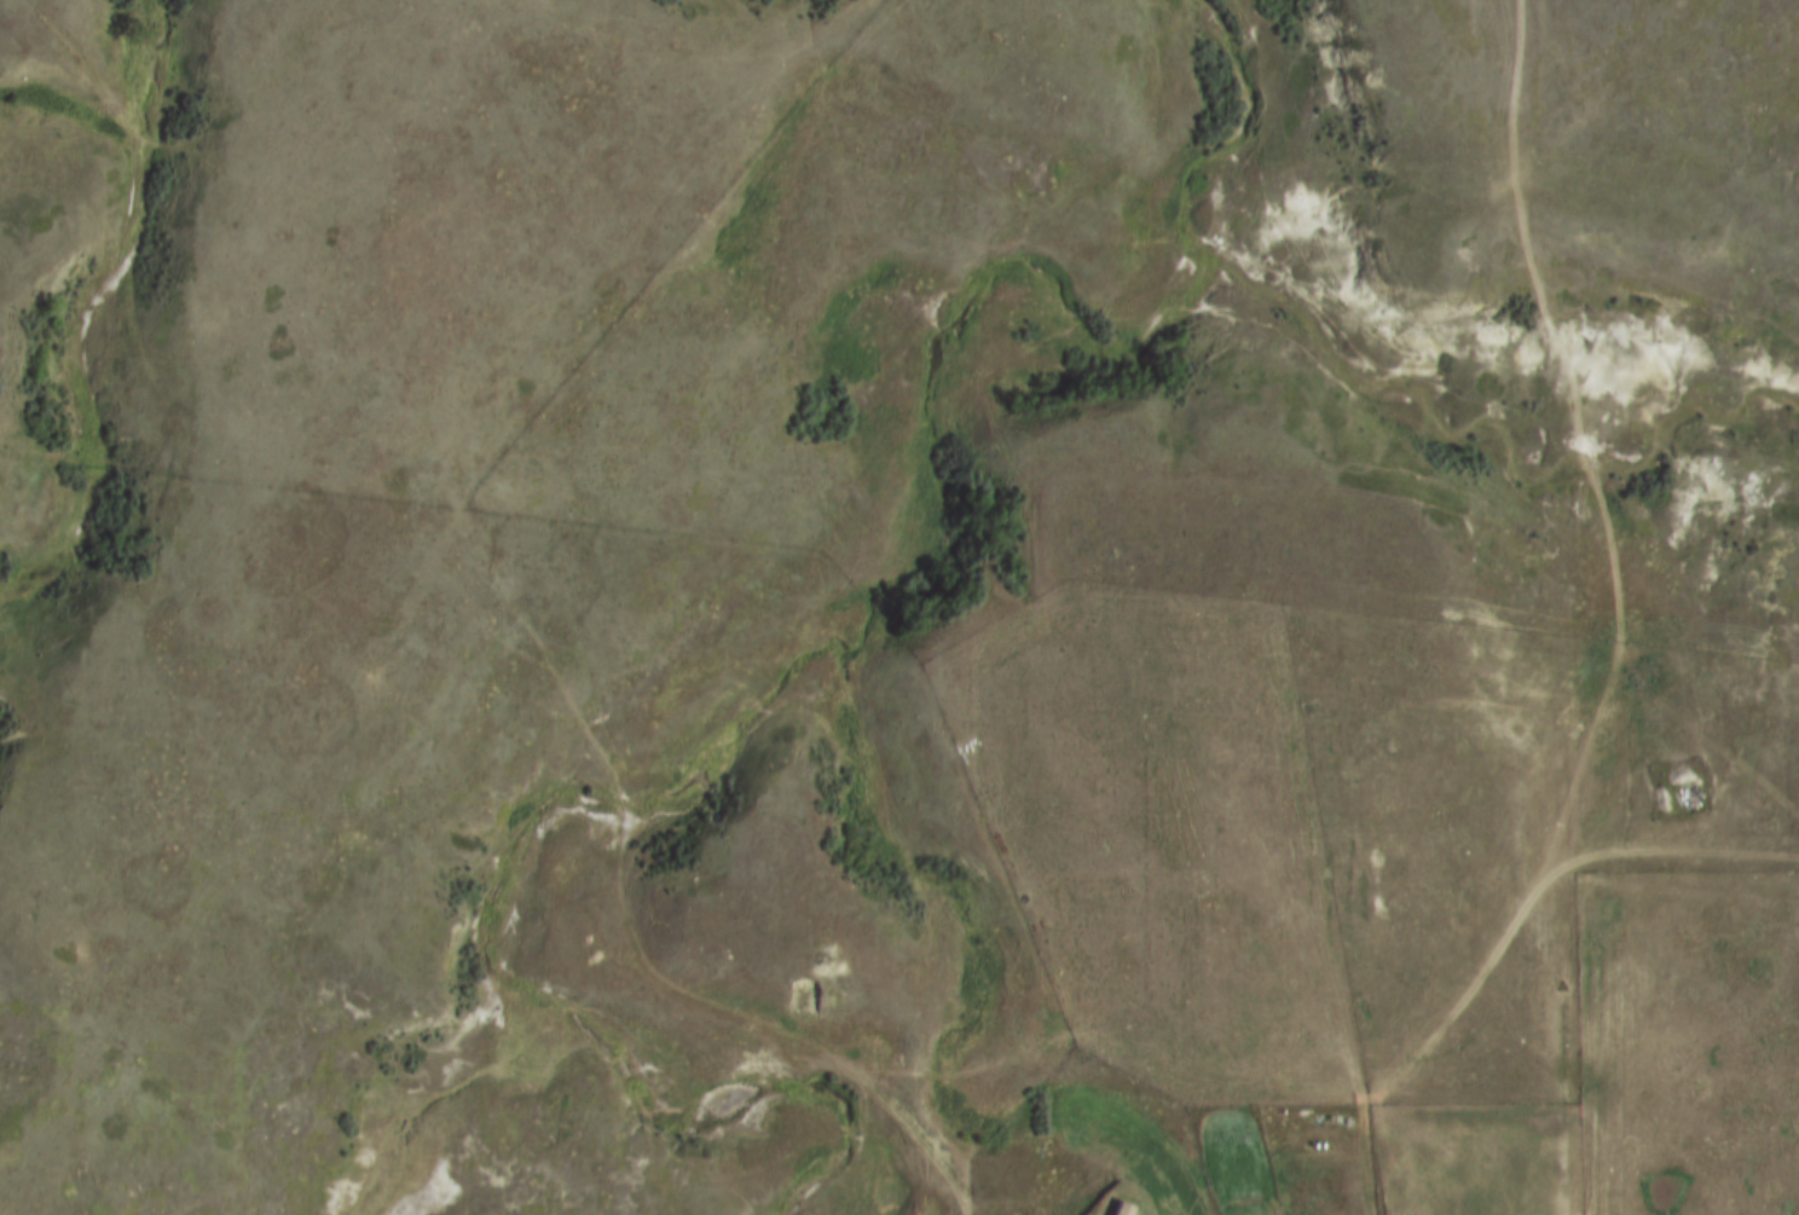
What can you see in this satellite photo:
road: (921, 1147)

